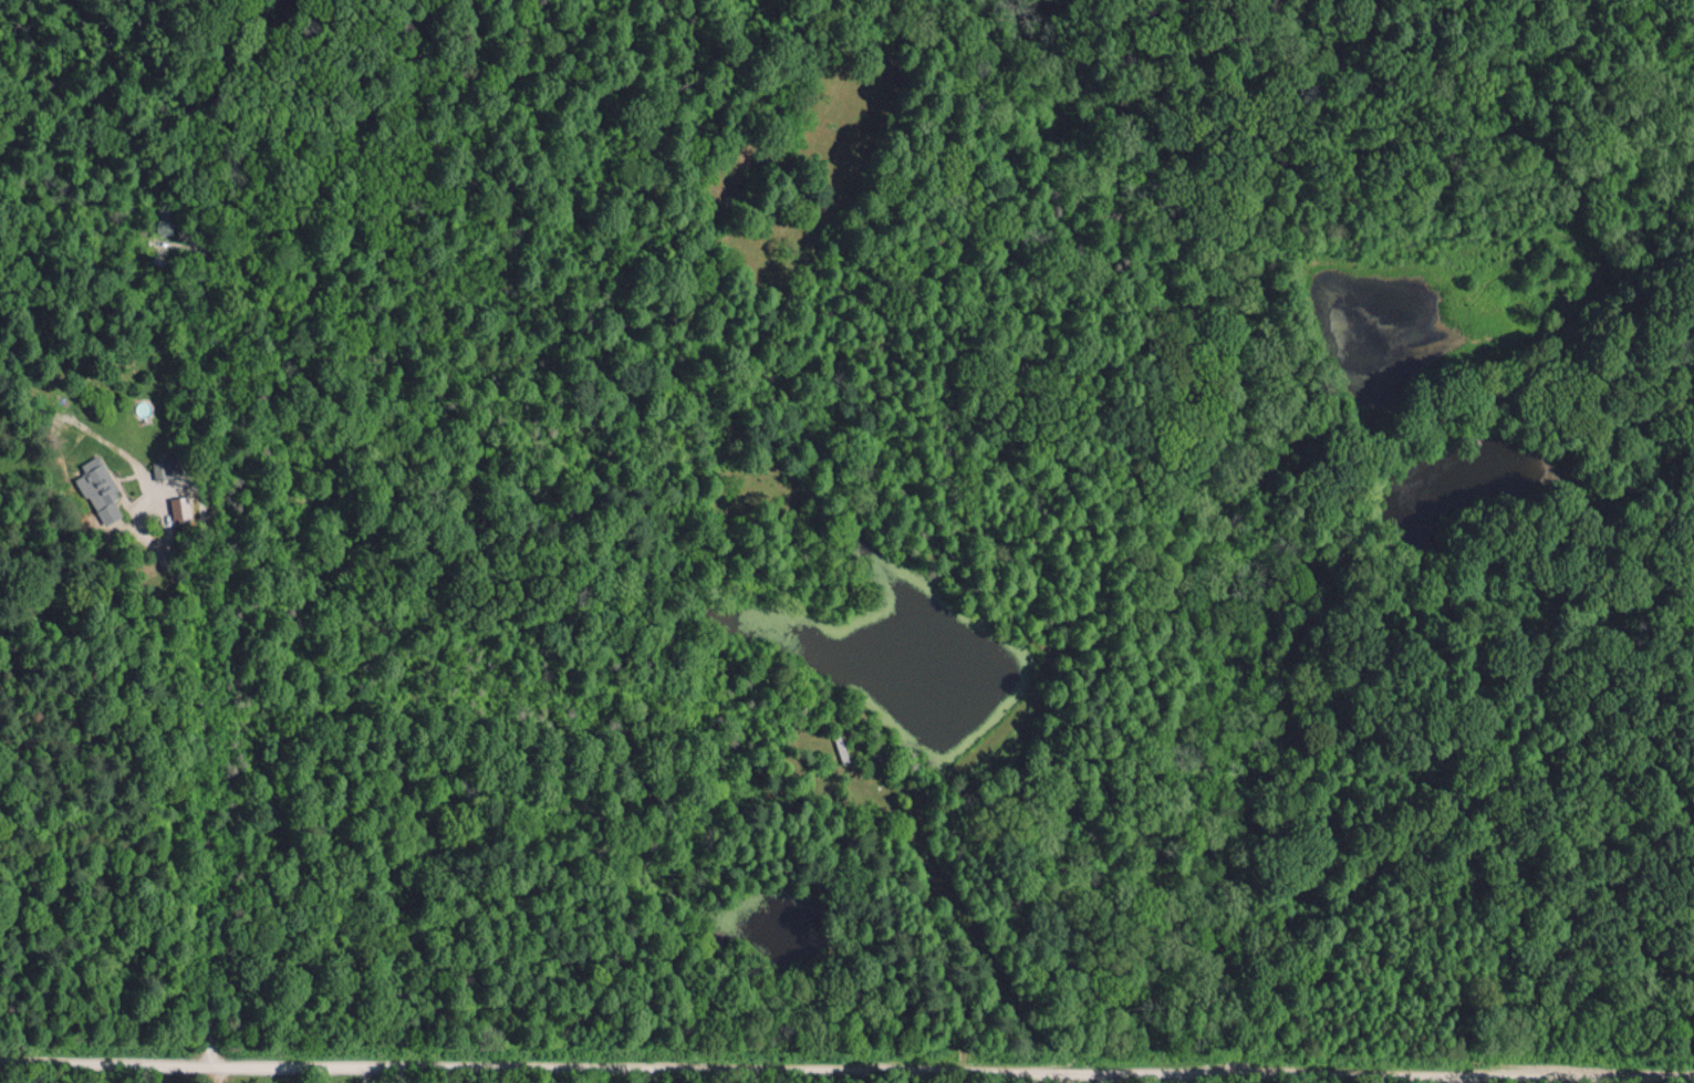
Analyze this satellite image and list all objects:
building: (98, 490)
building: (179, 508)
road: (201, 656)
road: (846, 1066)

